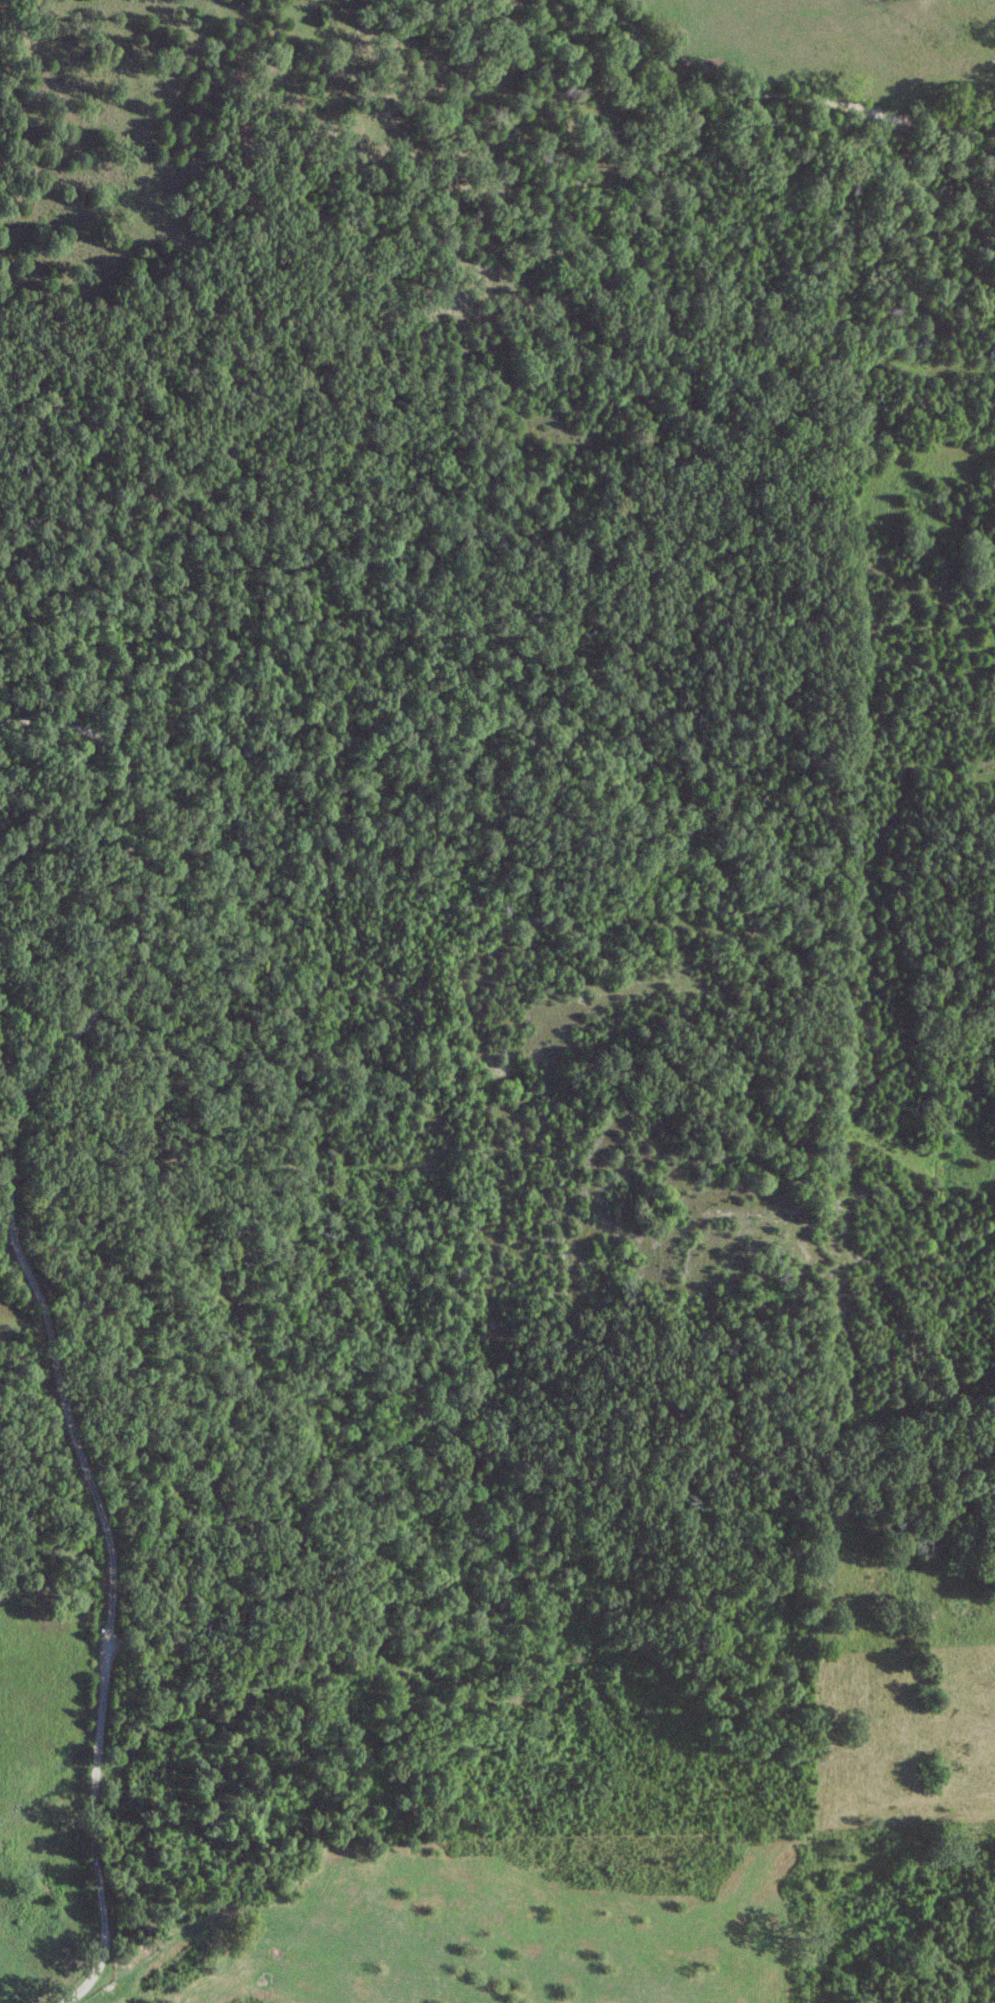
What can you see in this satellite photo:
road: (872, 1149)
road: (40, 1308)

